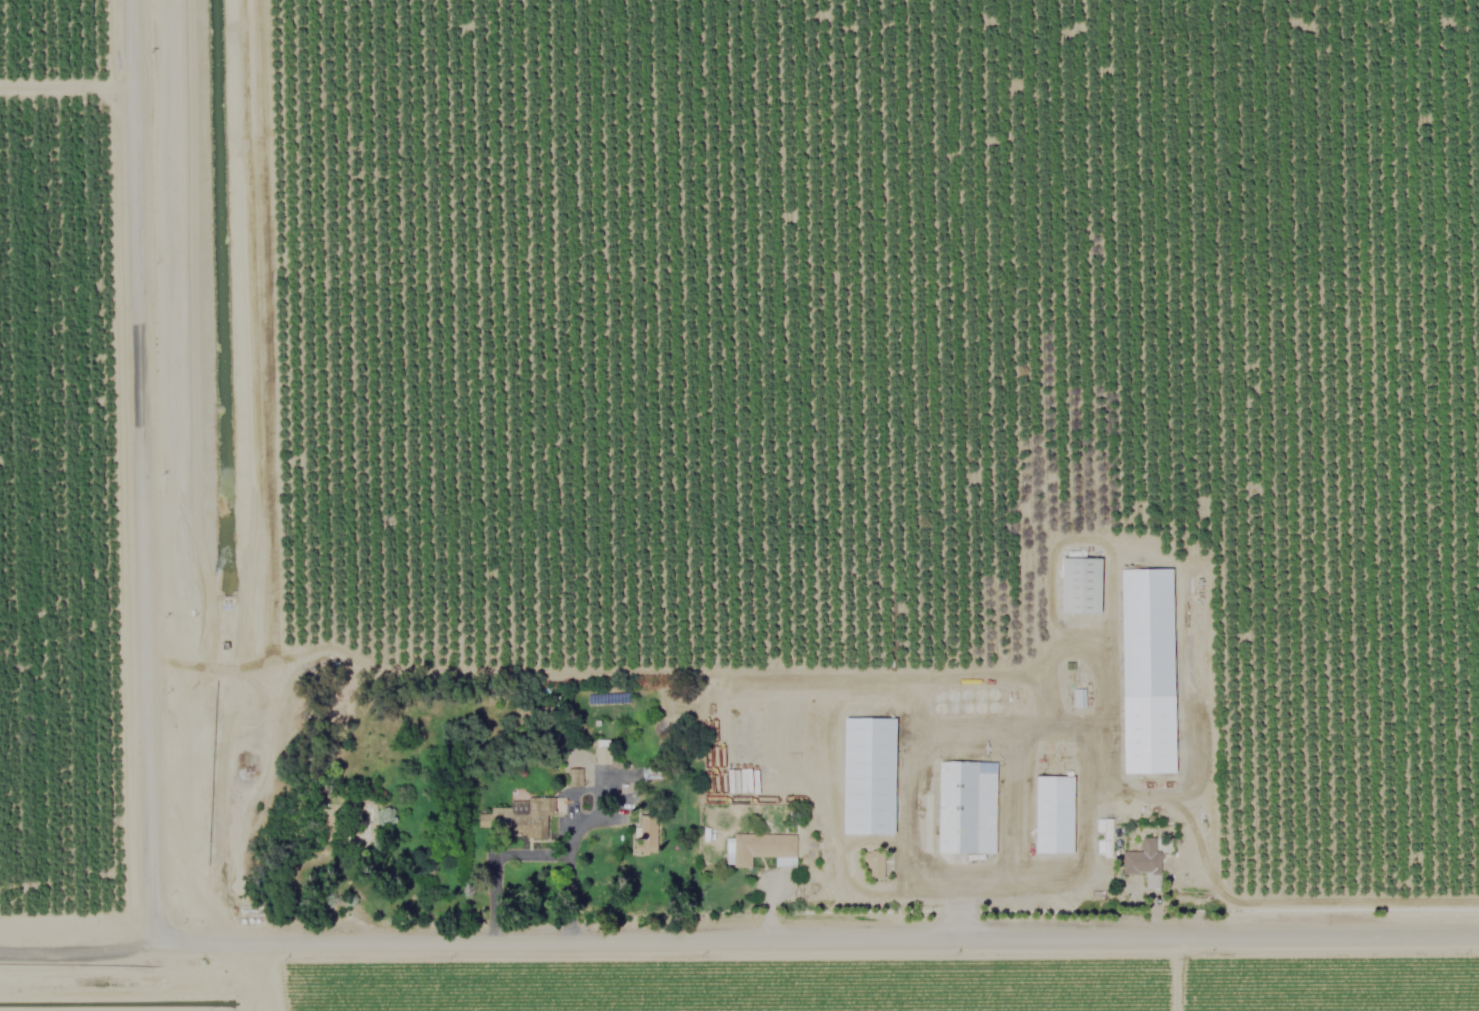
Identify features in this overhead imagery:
road: (135, 469)
building: (1080, 583)
building: (1148, 669)
road: (536, 671)
building: (1077, 696)
road: (1031, 732)
building: (869, 774)
building: (965, 806)
building: (1054, 813)
building: (519, 815)
building: (644, 833)
building: (758, 847)
building: (873, 861)
building: (1142, 861)
road: (573, 869)
road: (1129, 889)
road: (498, 892)
road: (739, 934)
crop: (844, 985)

